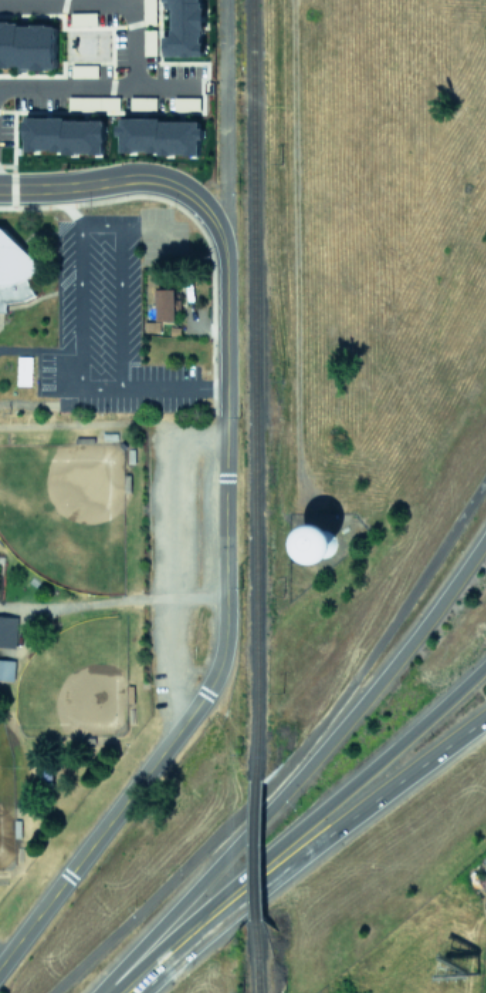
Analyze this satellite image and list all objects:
road: (104, 1)
building: (148, 12)
building: (184, 29)
building: (149, 42)
building: (27, 45)
road: (112, 88)
building: (92, 102)
building: (141, 102)
building: (185, 103)
road: (223, 104)
building: (63, 134)
building: (159, 135)
road: (134, 177)
road: (76, 224)
building: (13, 270)
building: (165, 304)
railway: (252, 385)
road: (170, 389)
park: (64, 513)
water tower: (338, 537)
building: (319, 543)
road: (173, 561)
park: (94, 598)
road: (111, 599)
building: (7, 630)
road: (221, 647)
building: (6, 669)
park: (74, 680)
road: (290, 753)
road: (299, 769)
park: (5, 801)
road: (295, 827)
road: (322, 835)
railway: (255, 850)
road: (2, 956)
railway: (255, 961)
road: (149, 978)

